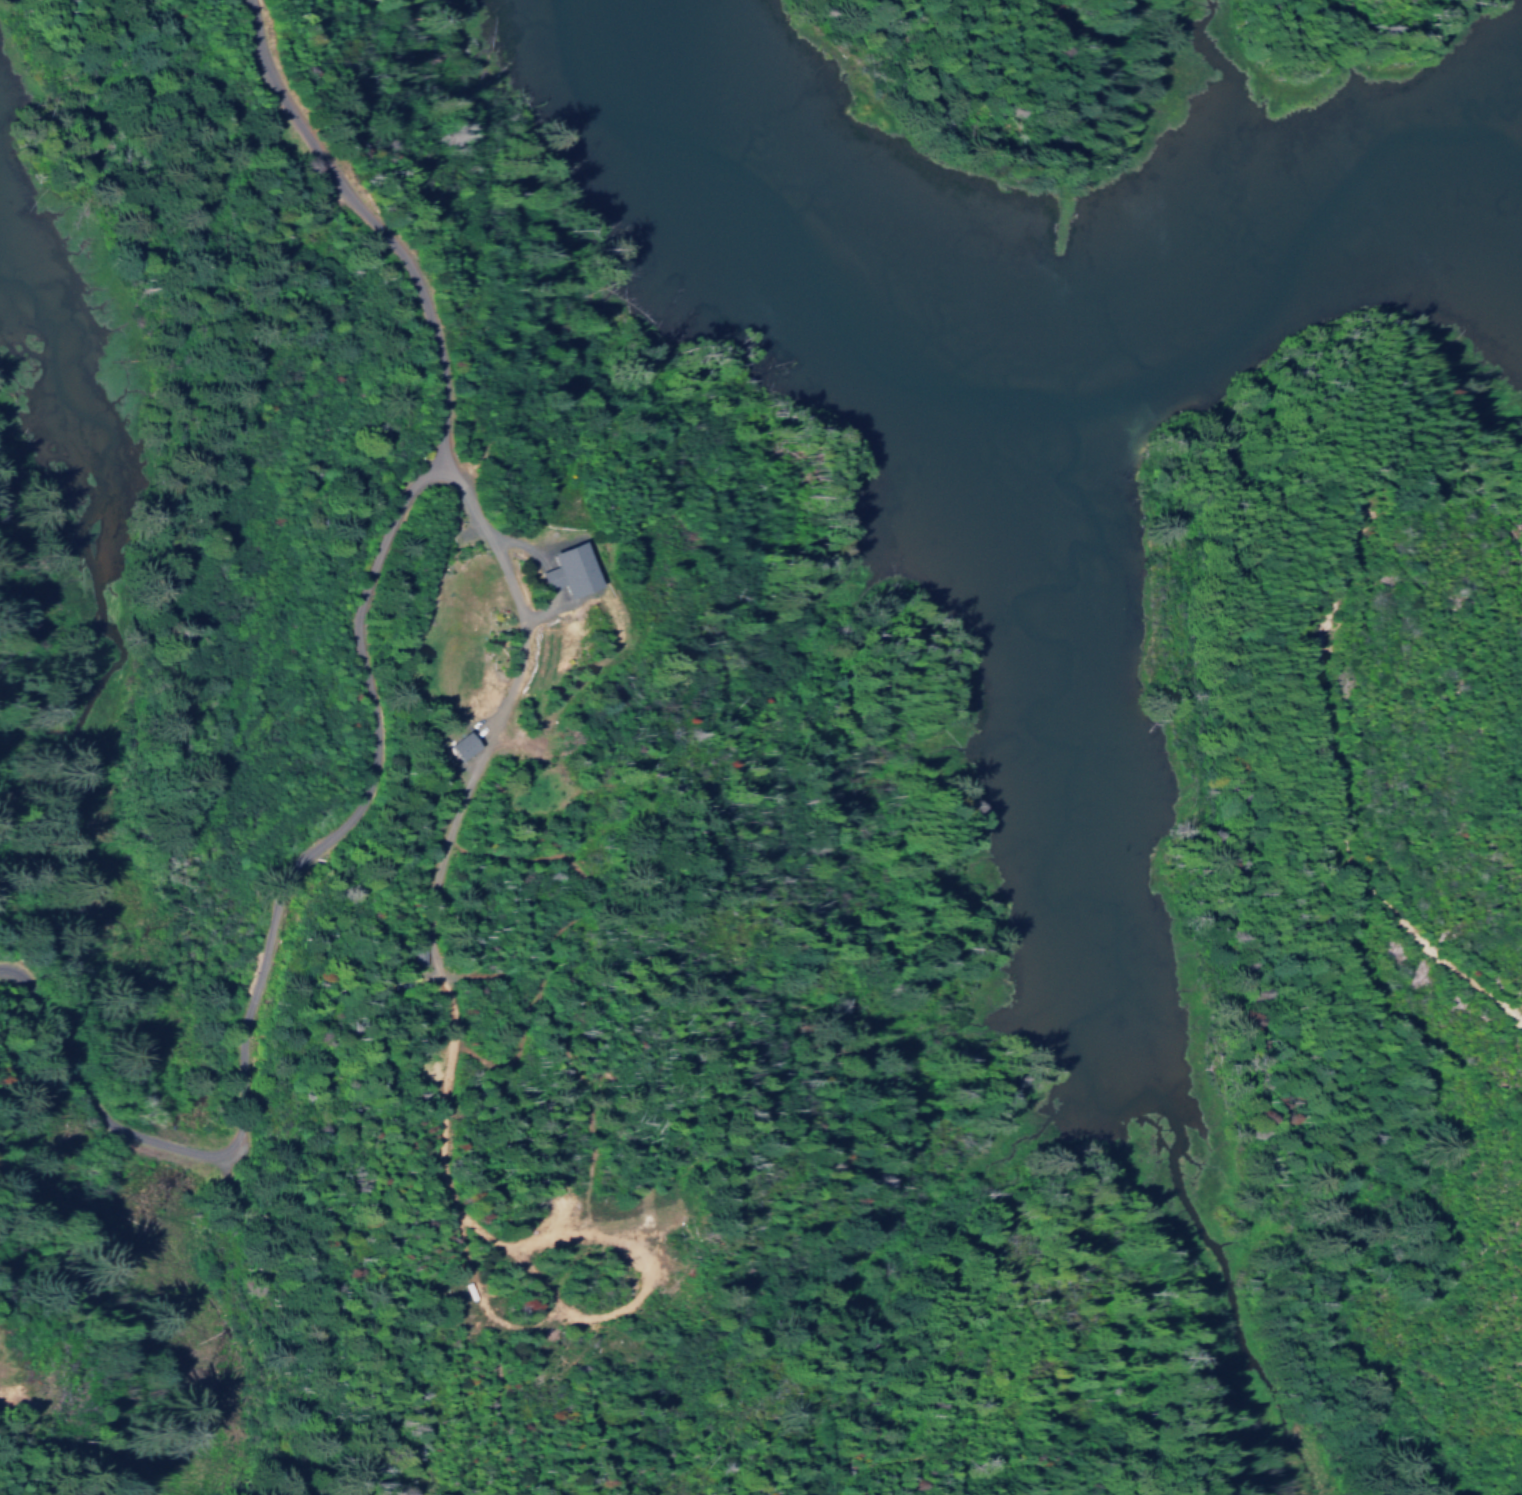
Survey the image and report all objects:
building: (560, 569)
building: (453, 745)
building: (416, 954)

